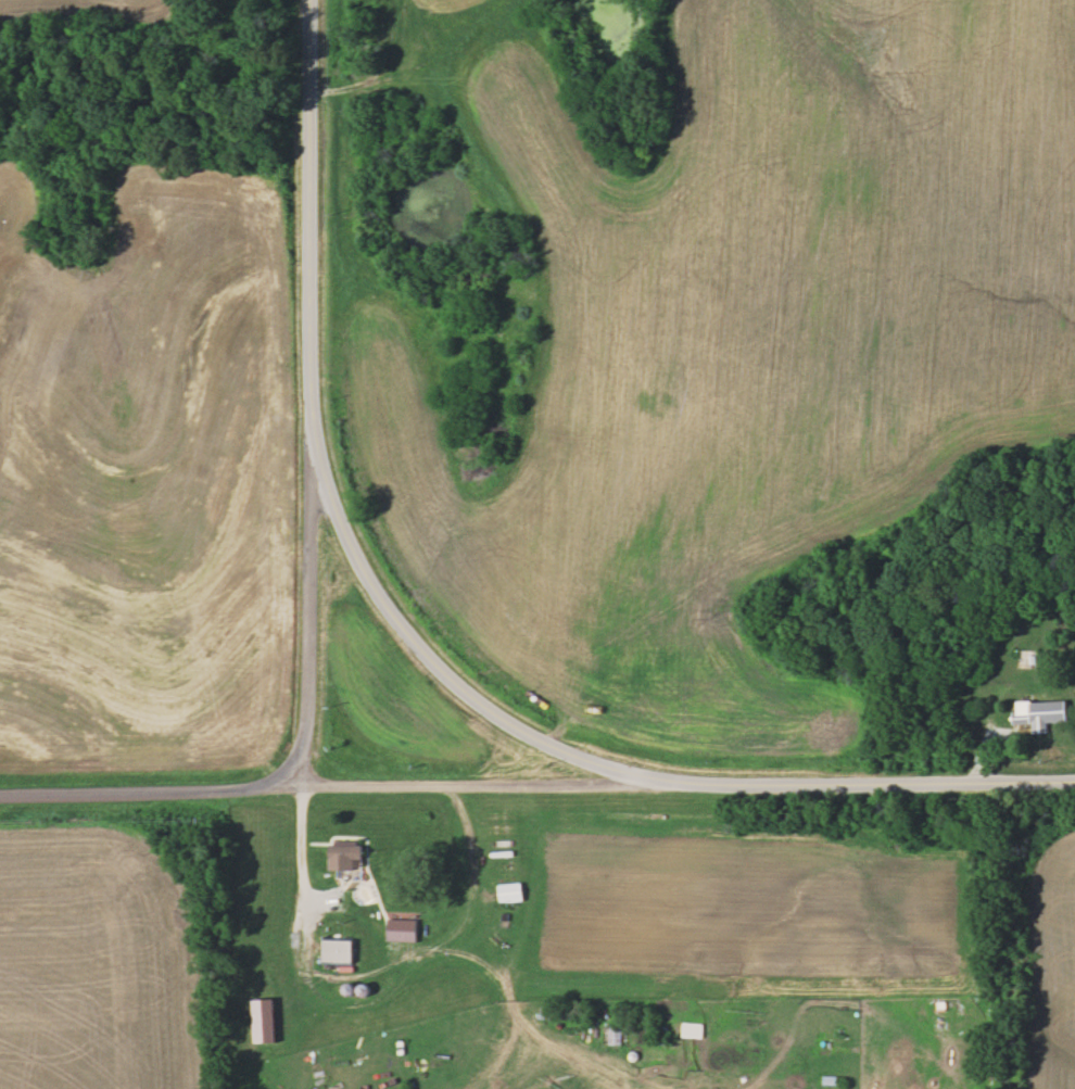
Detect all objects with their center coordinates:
road: (383, 72)
road: (311, 615)
road: (423, 655)
building: (1037, 712)
road: (458, 784)
road: (132, 790)
building: (347, 857)
building: (362, 900)
building: (340, 951)
road: (357, 965)
building: (692, 1030)
building: (660, 1035)
building: (614, 1036)
building: (829, 1082)

